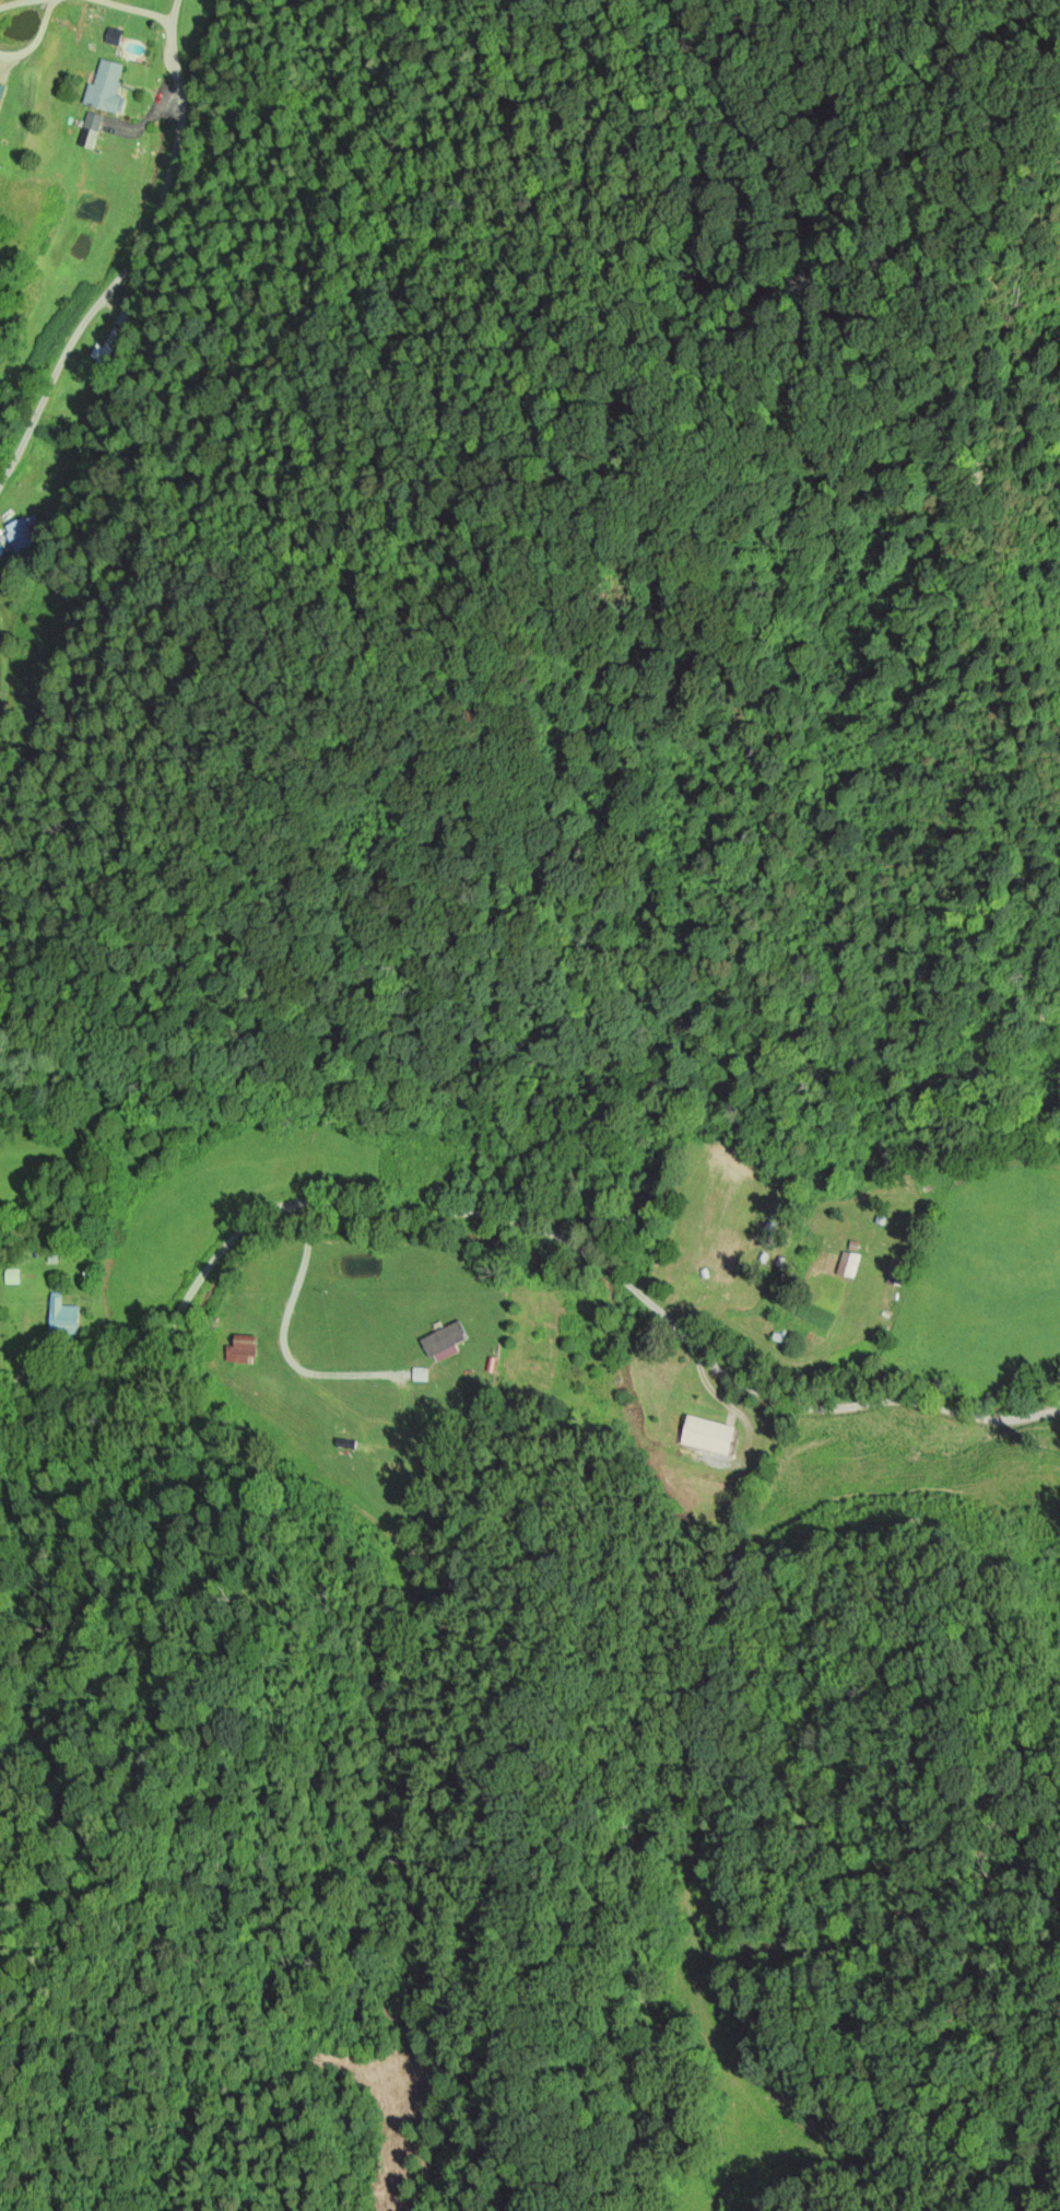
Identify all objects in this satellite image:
building: (107, 87)
building: (2, 94)
building: (93, 125)
road: (131, 256)
building: (23, 536)
road: (315, 1203)
building: (898, 1274)
building: (64, 1315)
building: (250, 1325)
building: (768, 1326)
road: (681, 1333)
building: (446, 1340)
road: (282, 1342)
building: (244, 1352)
road: (723, 1394)
road: (867, 1403)
building: (711, 1436)
building: (414, 1444)

